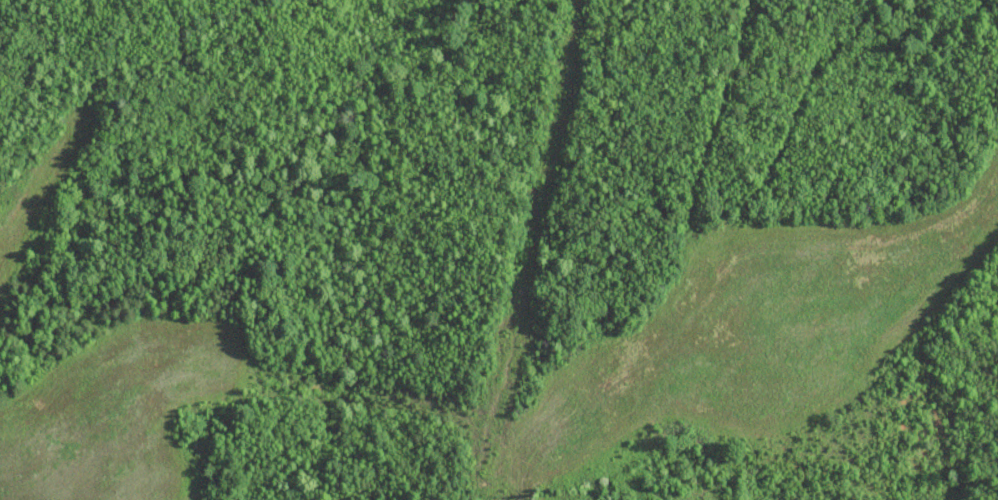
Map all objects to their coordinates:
road: (600, 370)

